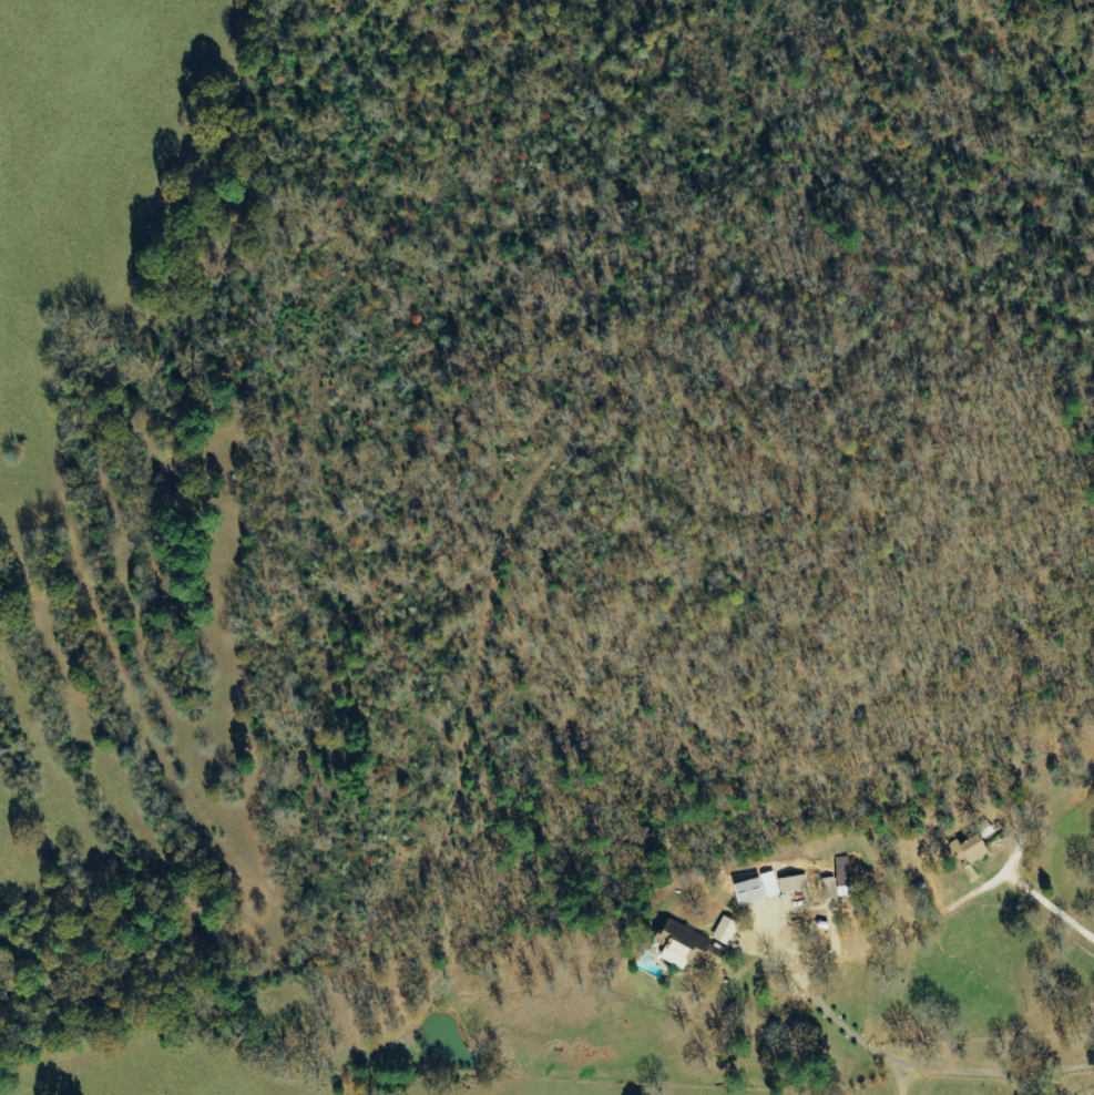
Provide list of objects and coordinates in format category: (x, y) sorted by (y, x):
building: (972, 848)
building: (847, 877)
building: (795, 883)
building: (830, 888)
building: (760, 889)
road: (1056, 915)
building: (727, 931)
building: (685, 952)

